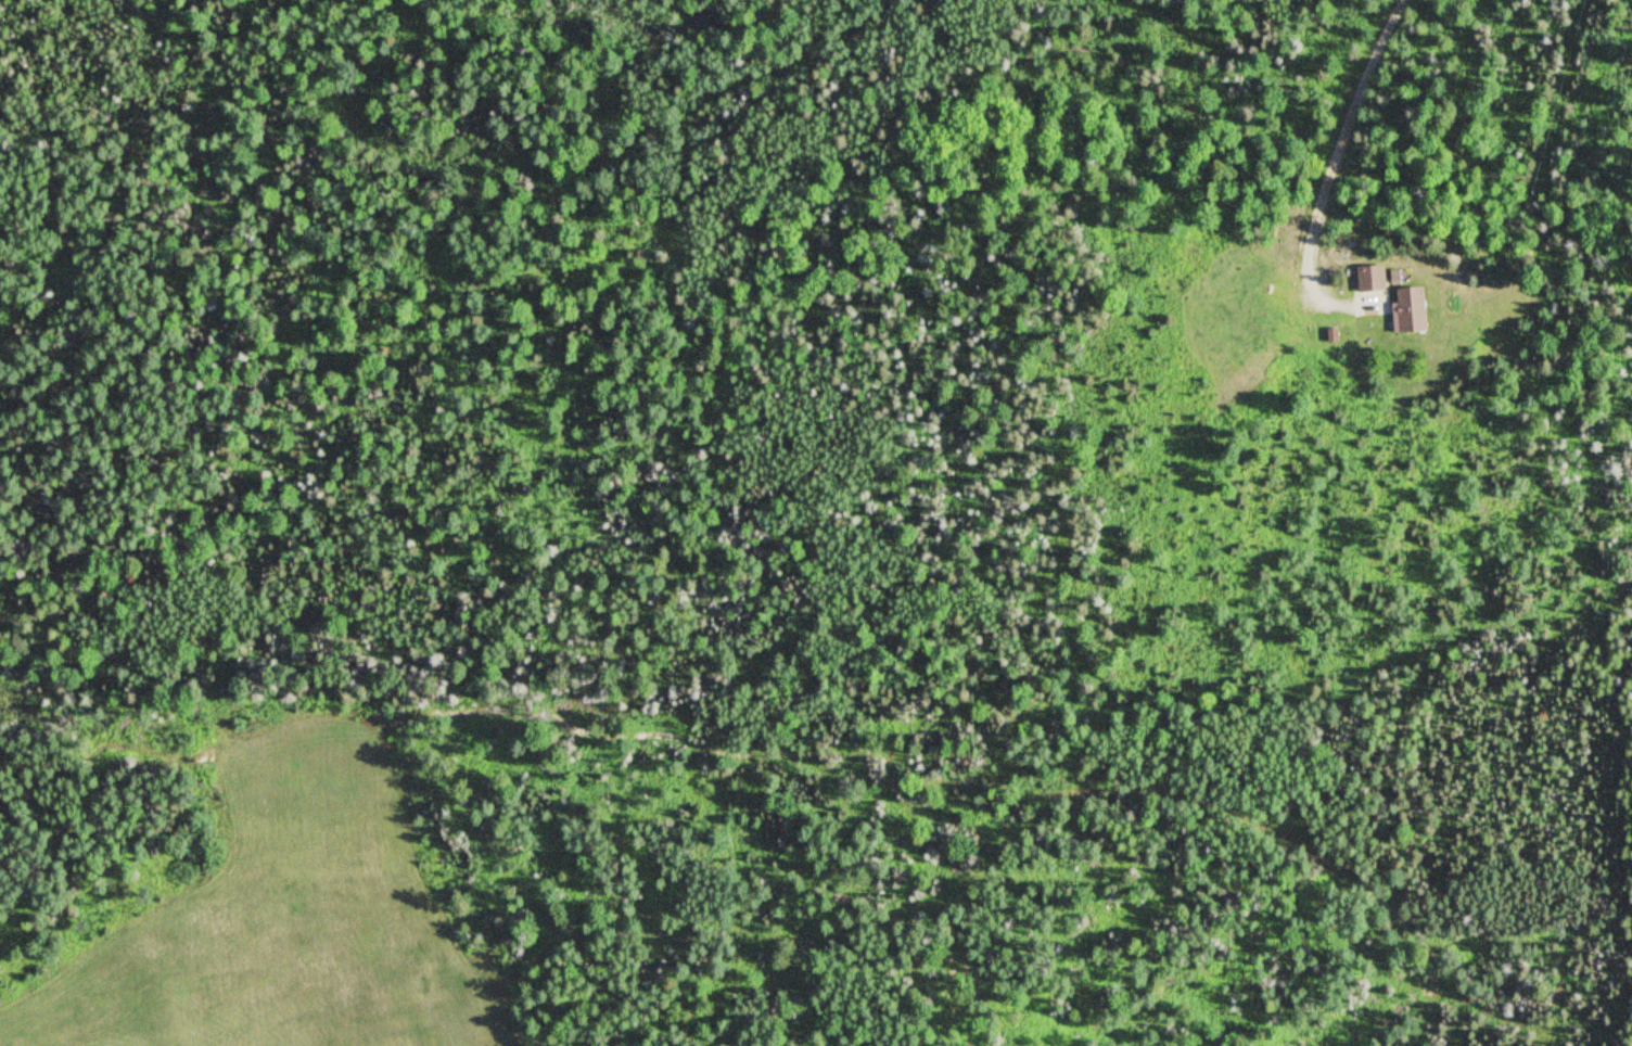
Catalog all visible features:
road: (1341, 151)
building: (1384, 299)

